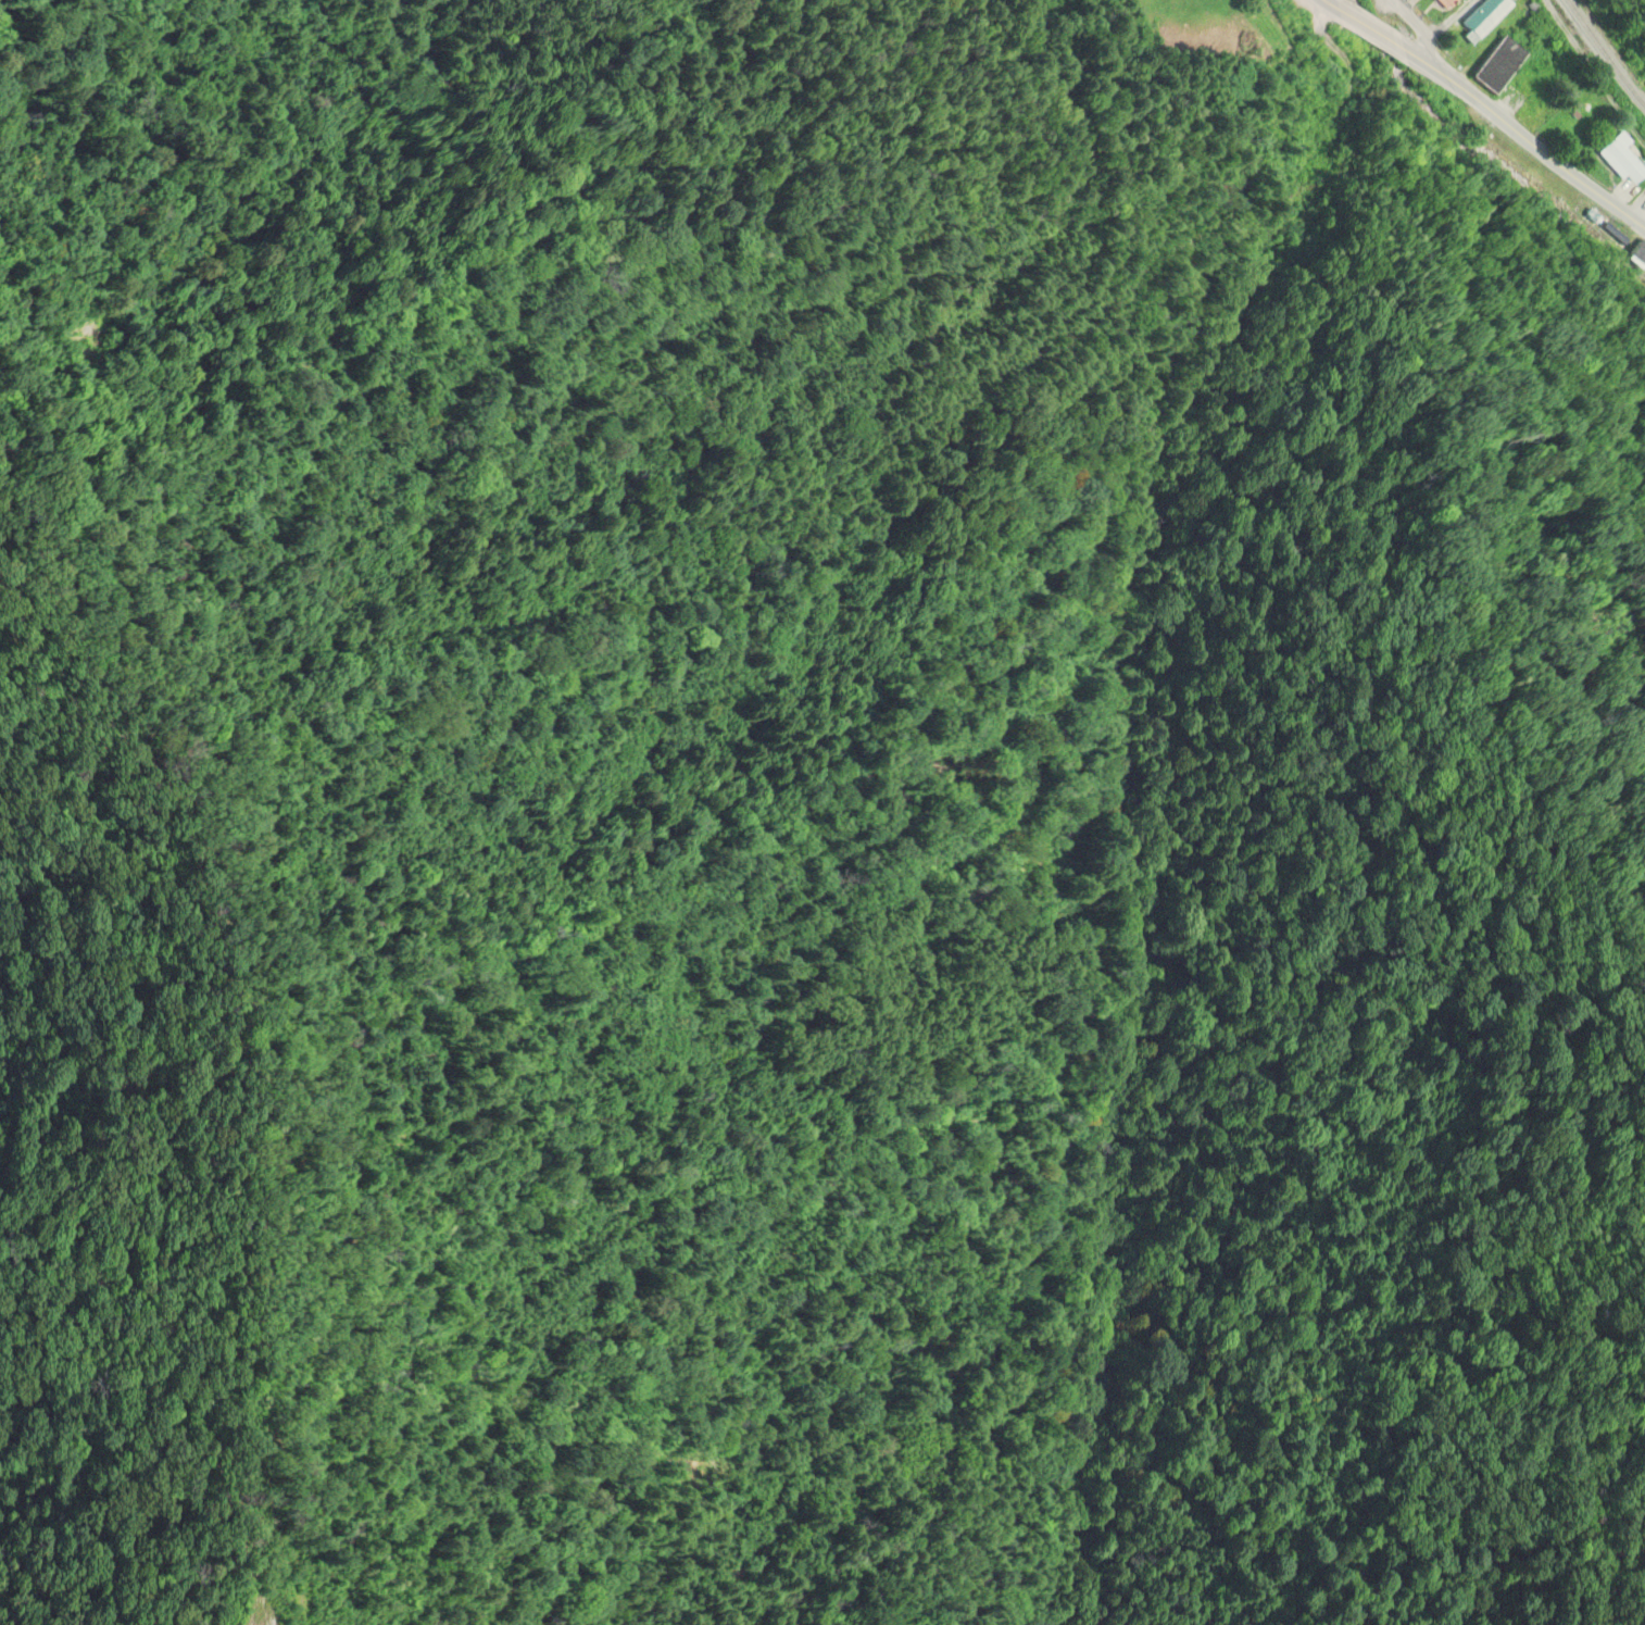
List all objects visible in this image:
building: (1442, 2)
road: (1329, 4)
building: (1481, 15)
road: (1417, 28)
road: (1369, 29)
road: (1321, 35)
railway: (1604, 54)
building: (1492, 64)
building: (1506, 98)
road: (1523, 138)
building: (1617, 155)
building: (1633, 253)
quarry: (260, 1601)

